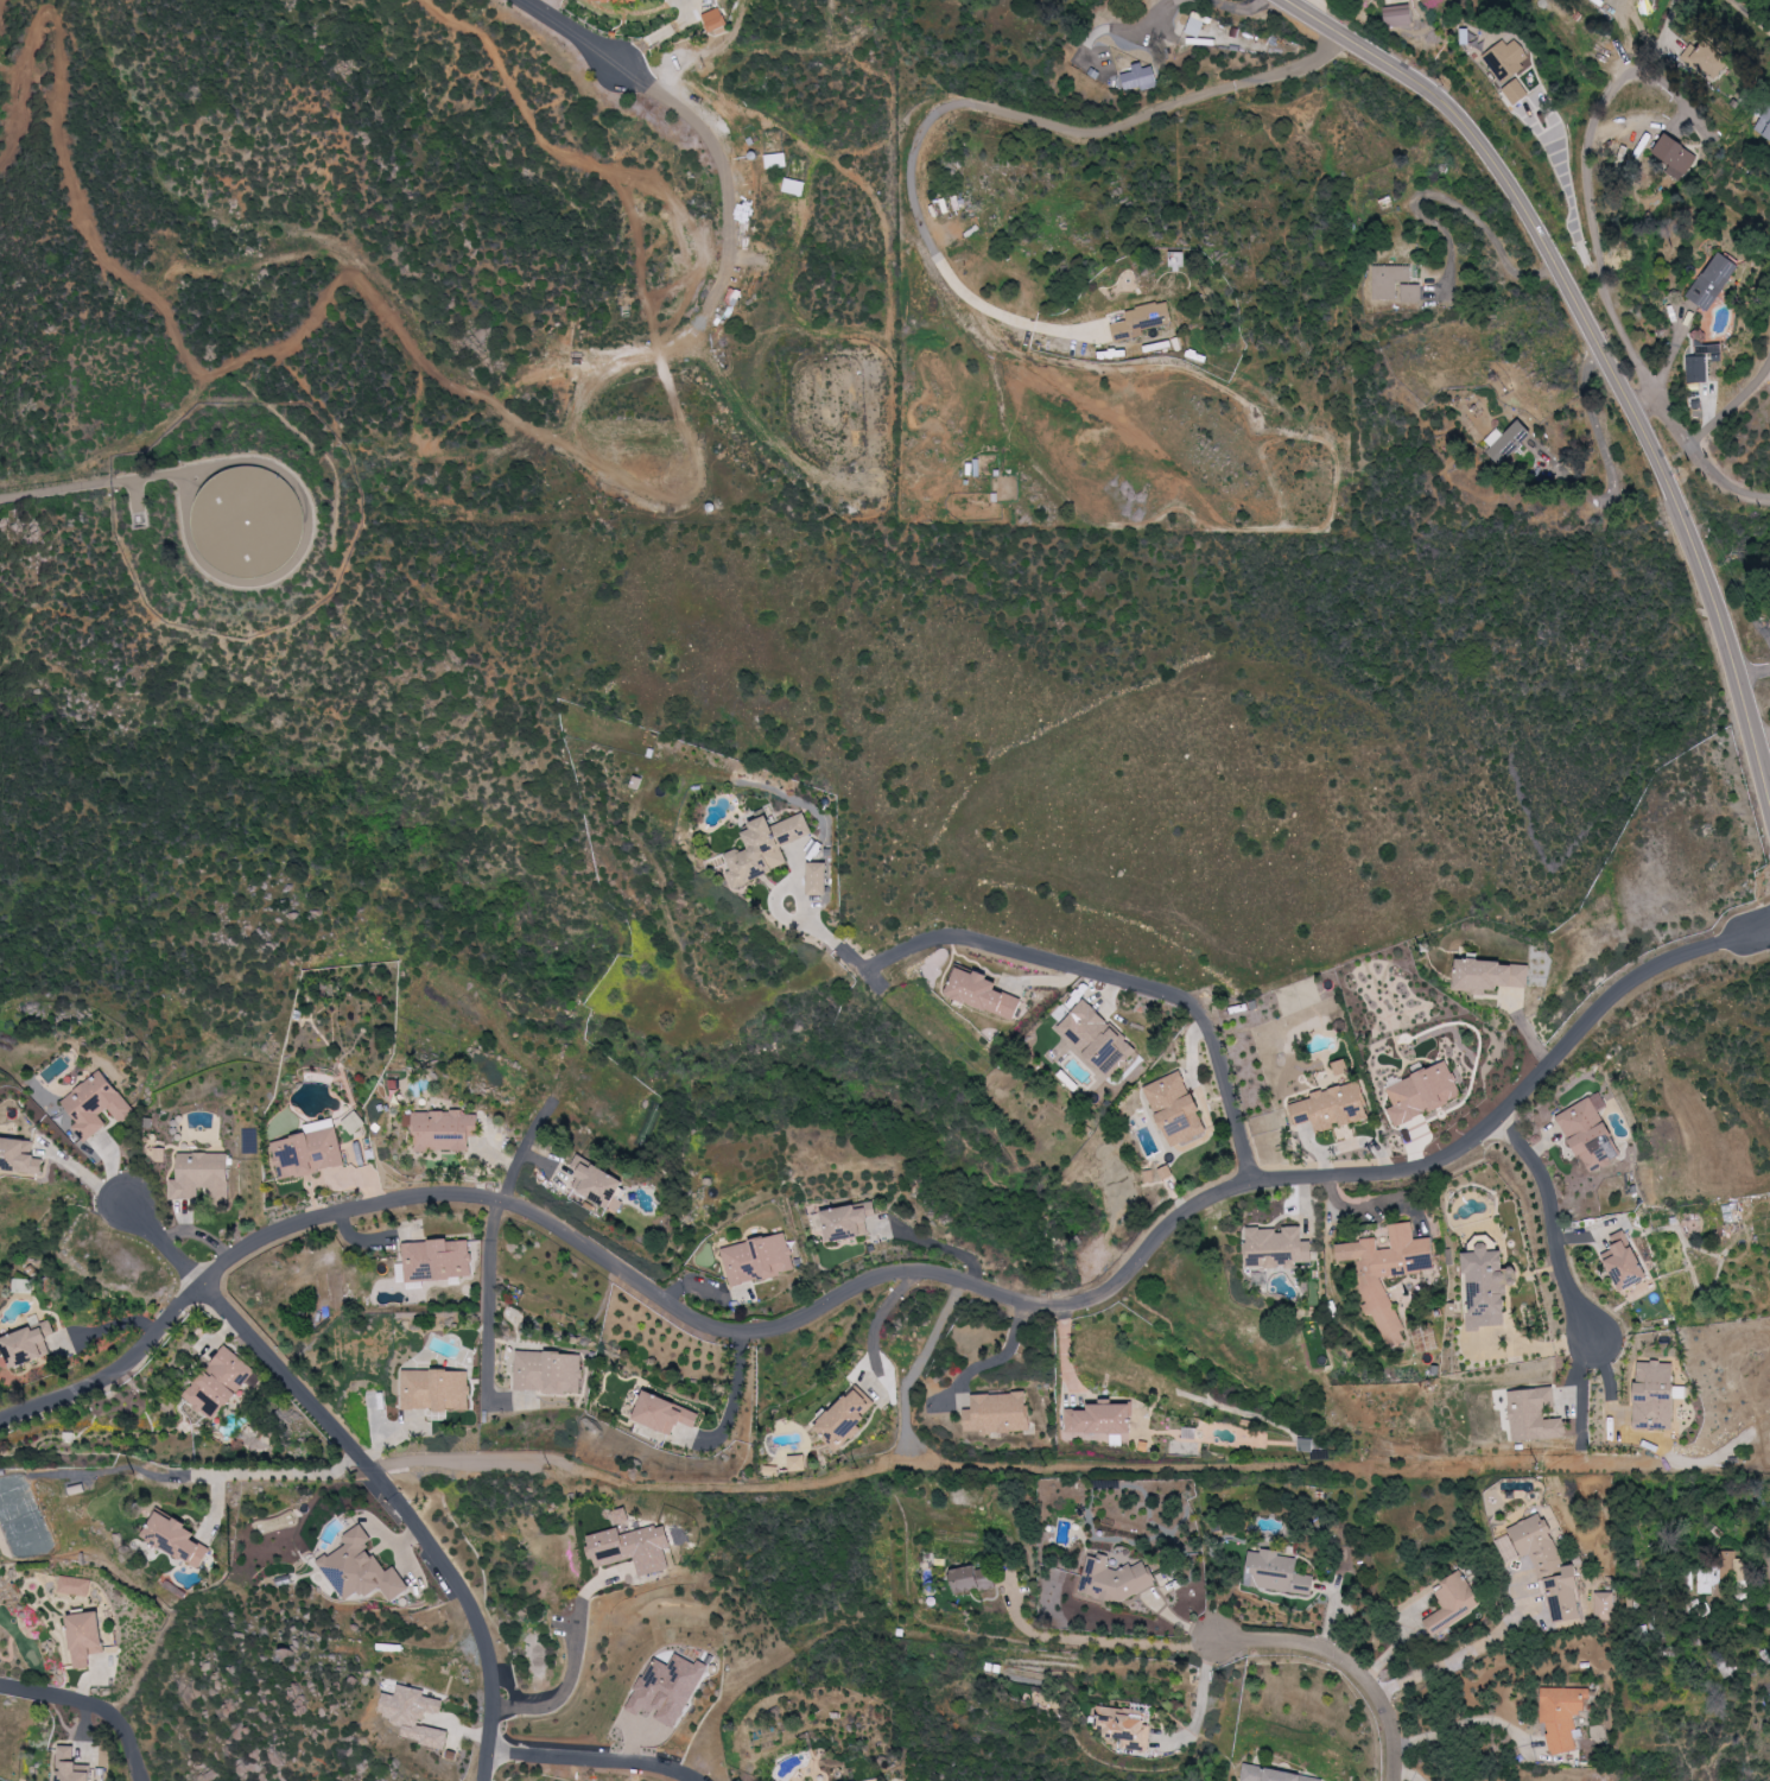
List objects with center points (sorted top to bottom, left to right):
building: (646, 0)
road: (1238, 6)
road: (1755, 13)
building: (1398, 15)
building: (716, 21)
road: (1668, 21)
building: (1197, 24)
road: (1111, 26)
road: (571, 31)
building: (1708, 58)
building: (1508, 61)
building: (1138, 78)
building: (1516, 91)
road: (982, 99)
building: (1764, 125)
building: (1676, 153)
building: (775, 160)
building: (794, 186)
road: (1452, 203)
road: (1598, 218)
building: (1176, 260)
building: (1714, 281)
building: (1396, 285)
building: (1141, 321)
road: (1603, 343)
building: (1700, 363)
road: (906, 387)
road: (1137, 420)
road: (1699, 435)
building: (1508, 443)
road: (1607, 469)
road: (1721, 482)
road: (47, 489)
road: (821, 588)
building: (766, 848)
building: (818, 879)
road: (831, 938)
building: (1490, 974)
building: (984, 991)
road: (1163, 991)
road: (1614, 997)
building: (1097, 1037)
building: (1341, 1066)
building: (1423, 1092)
building: (96, 1105)
building: (1333, 1107)
building: (1179, 1111)
building: (444, 1130)
building: (1591, 1134)
building: (310, 1151)
building: (19, 1156)
road: (83, 1172)
building: (203, 1178)
building: (599, 1181)
building: (850, 1221)
road: (1555, 1225)
road: (938, 1243)
building: (1279, 1247)
building: (438, 1259)
building: (759, 1259)
building: (1626, 1262)
building: (1390, 1272)
building: (1489, 1286)
road: (880, 1316)
road: (489, 1319)
road: (732, 1332)
building: (28, 1343)
road: (996, 1357)
building: (550, 1371)
building: (220, 1383)
building: (437, 1389)
road: (732, 1393)
building: (1656, 1394)
building: (666, 1413)
building: (998, 1413)
building: (1535, 1414)
building: (848, 1416)
building: (1102, 1418)
building: (797, 1463)
road: (366, 1465)
road: (267, 1473)
building: (622, 1517)
building: (177, 1538)
building: (635, 1547)
road: (1768, 1547)
building: (1548, 1567)
building: (361, 1568)
building: (1277, 1573)
building: (1712, 1576)
building: (975, 1578)
building: (1115, 1579)
building: (75, 1585)
building: (1453, 1603)
building: (1605, 1605)
building: (87, 1636)
road: (1095, 1639)
road: (1463, 1654)
road: (577, 1658)
road: (1349, 1662)
road: (91, 1704)
road: (1201, 1705)
building: (413, 1715)
building: (1565, 1716)
road: (1464, 1722)
building: (1124, 1726)
road: (592, 1758)
building: (72, 1766)
building: (1275, 1775)

